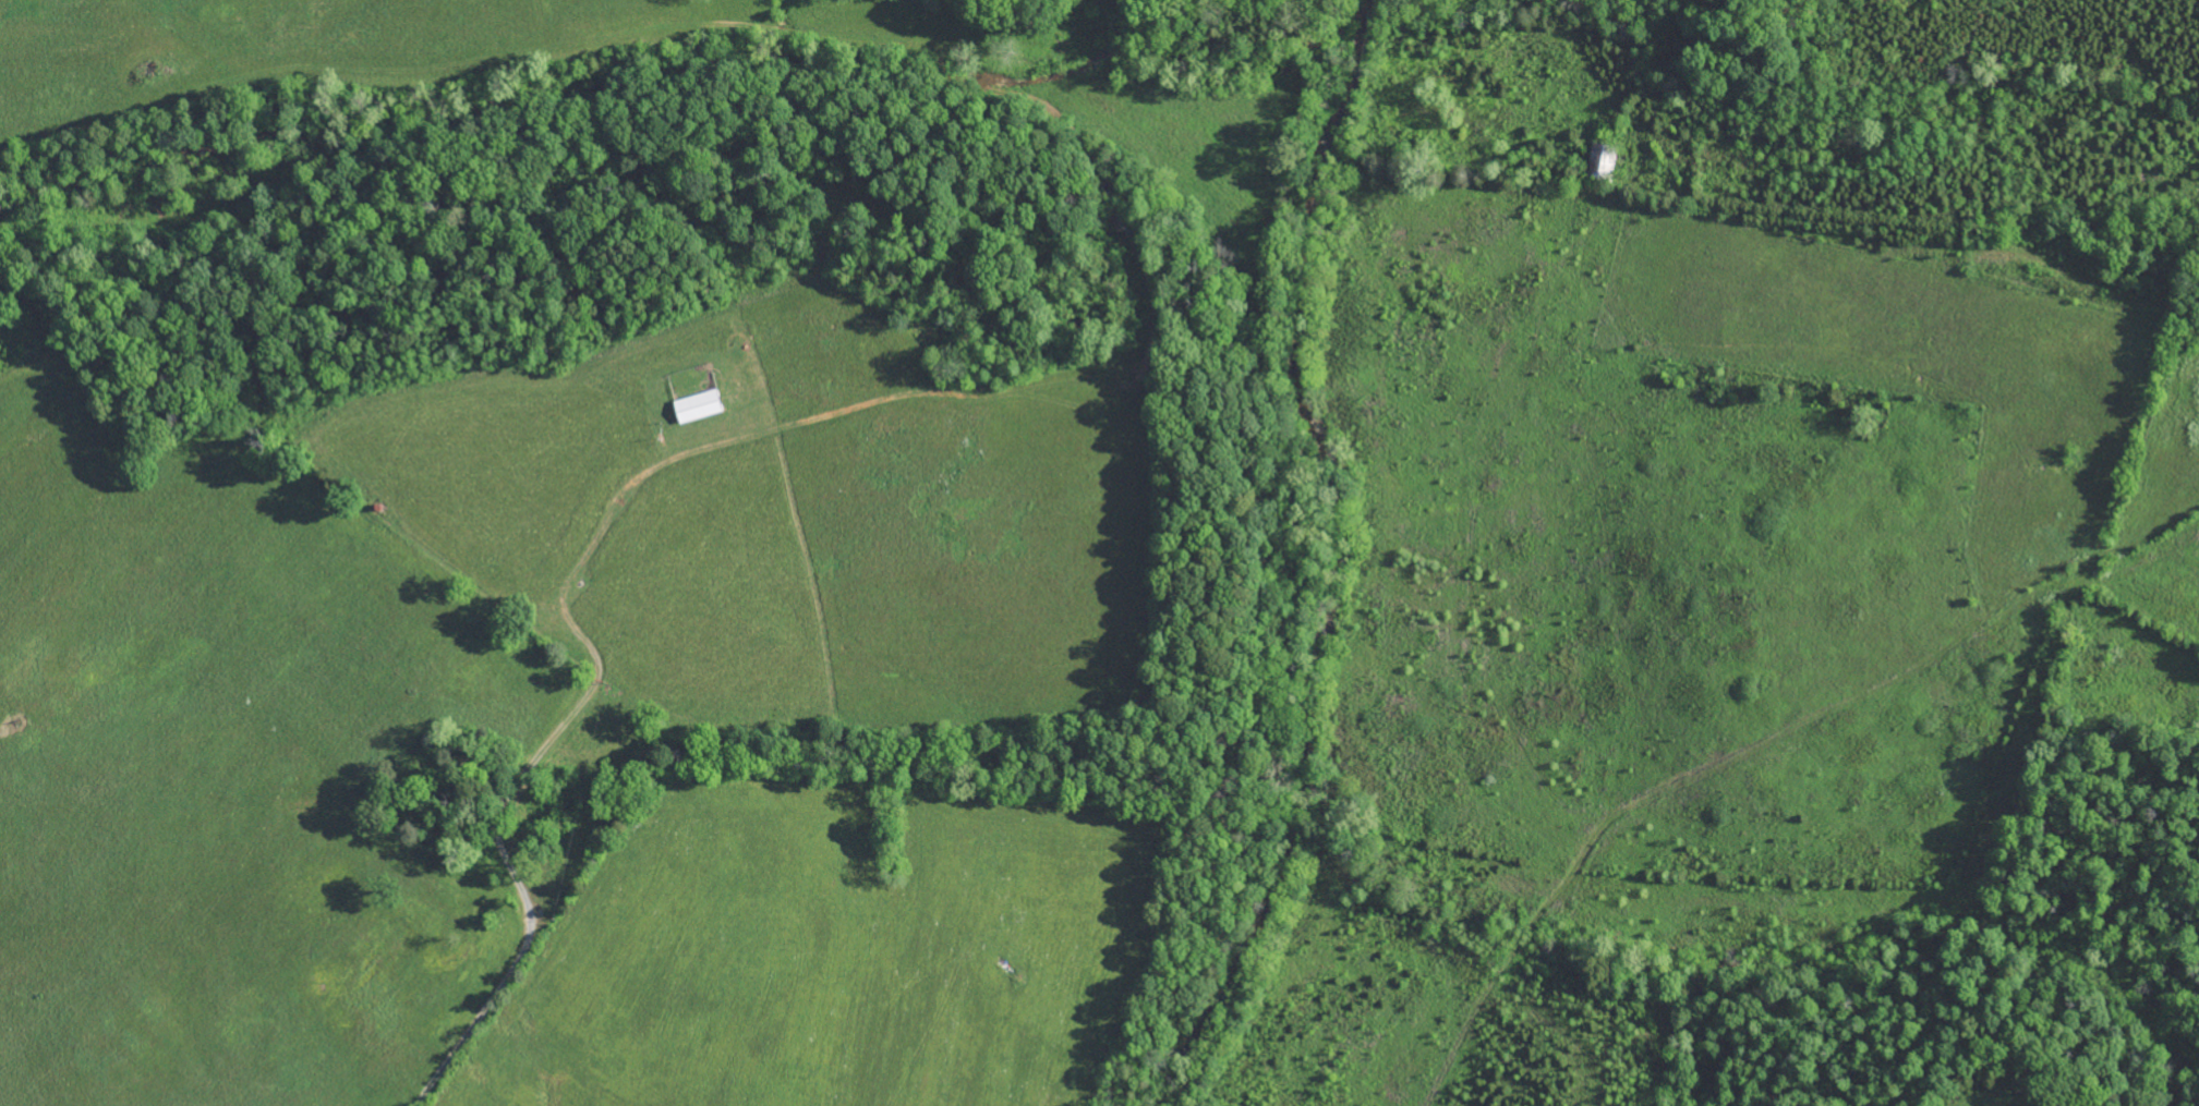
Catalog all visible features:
building: (1604, 161)
building: (700, 406)

